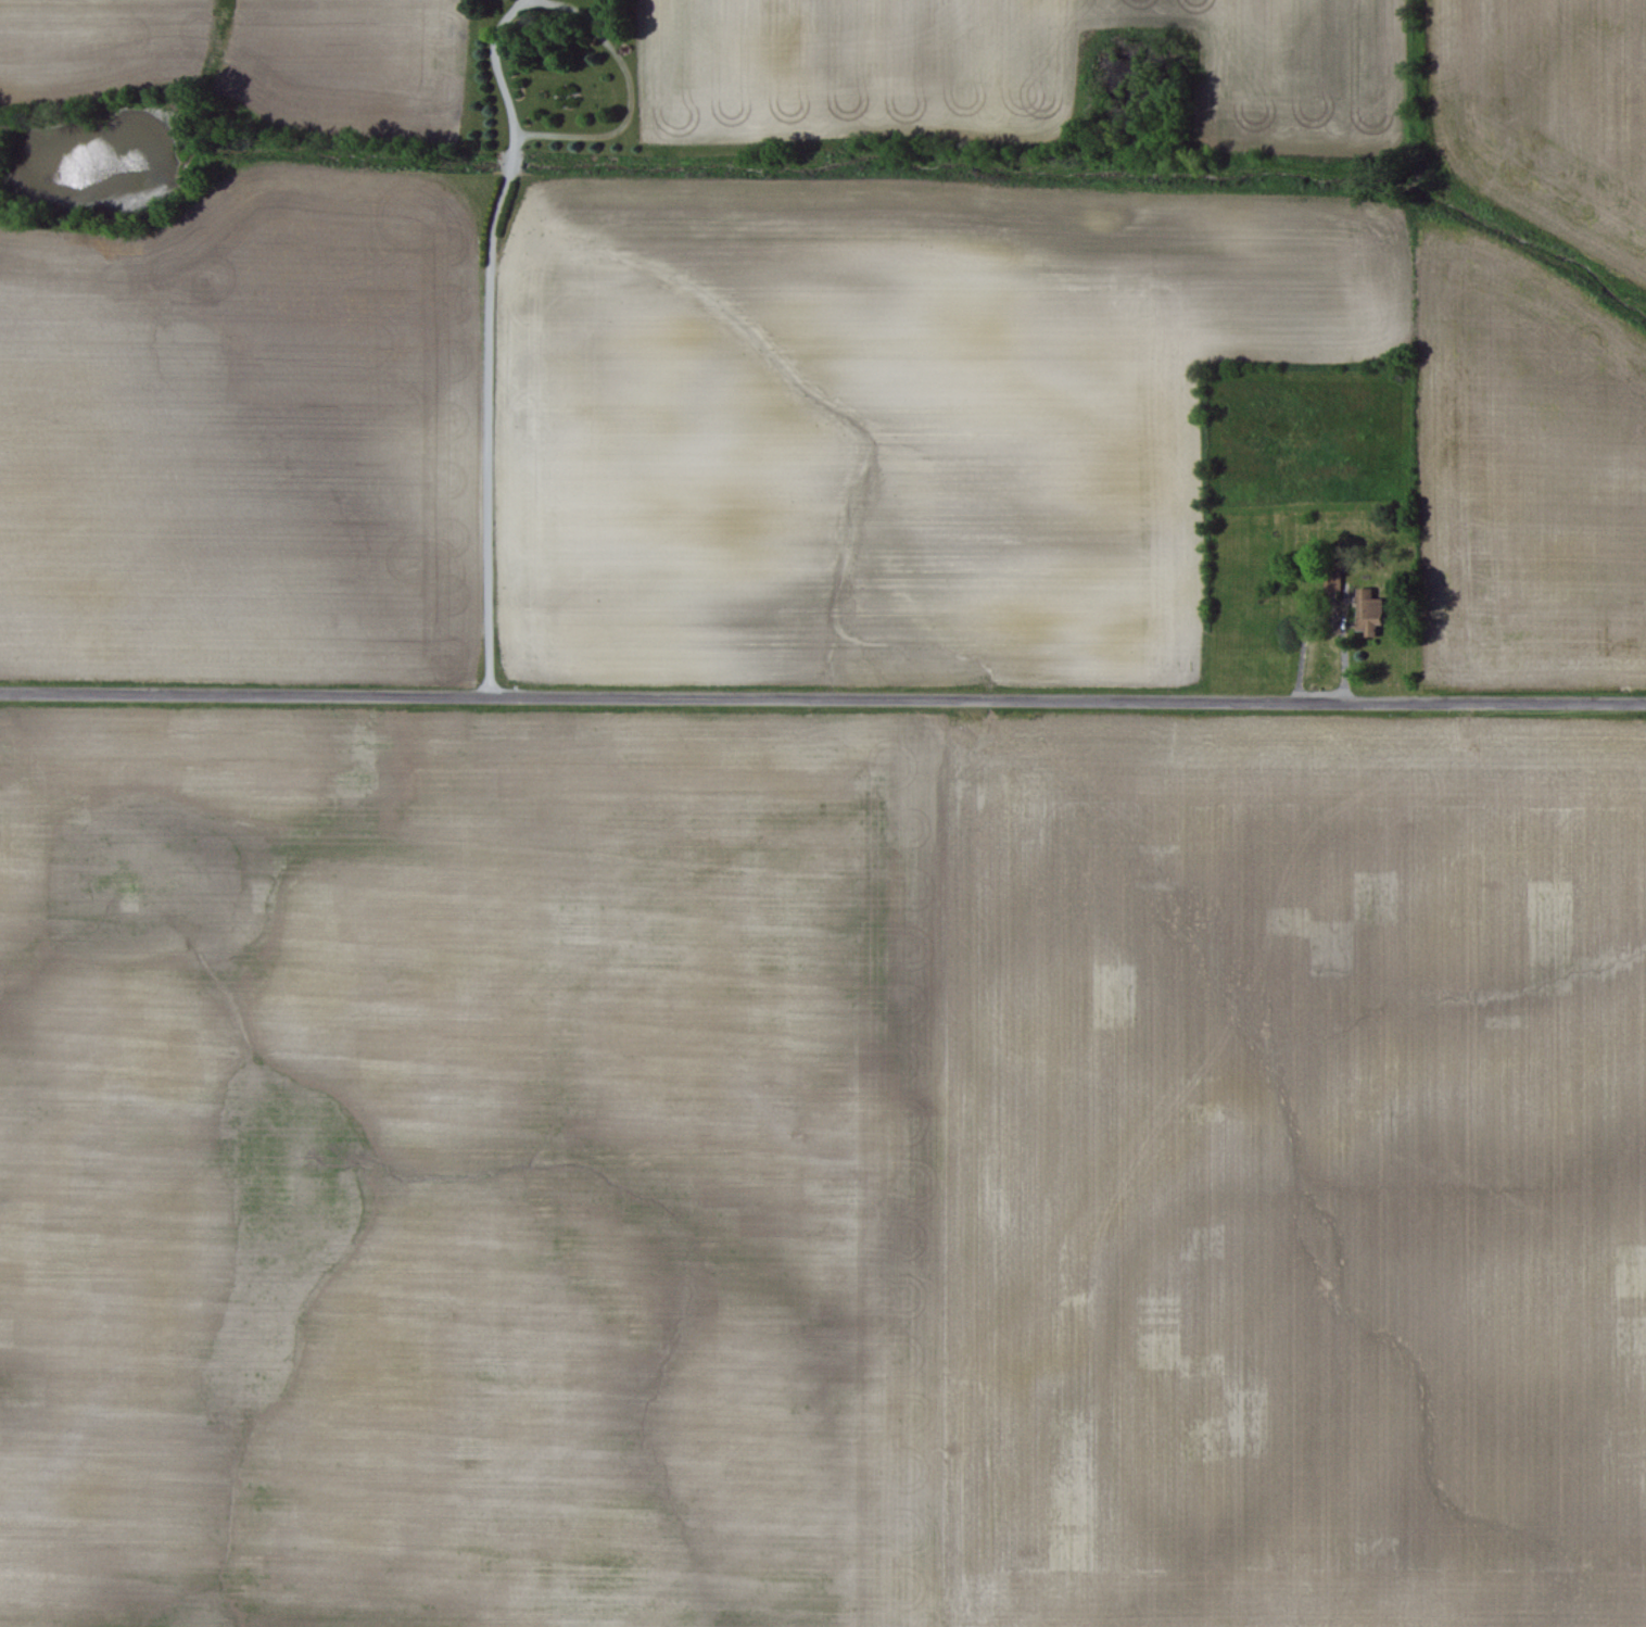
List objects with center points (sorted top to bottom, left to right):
road: (534, 1)
road: (501, 191)
building: (1367, 613)
road: (822, 697)

